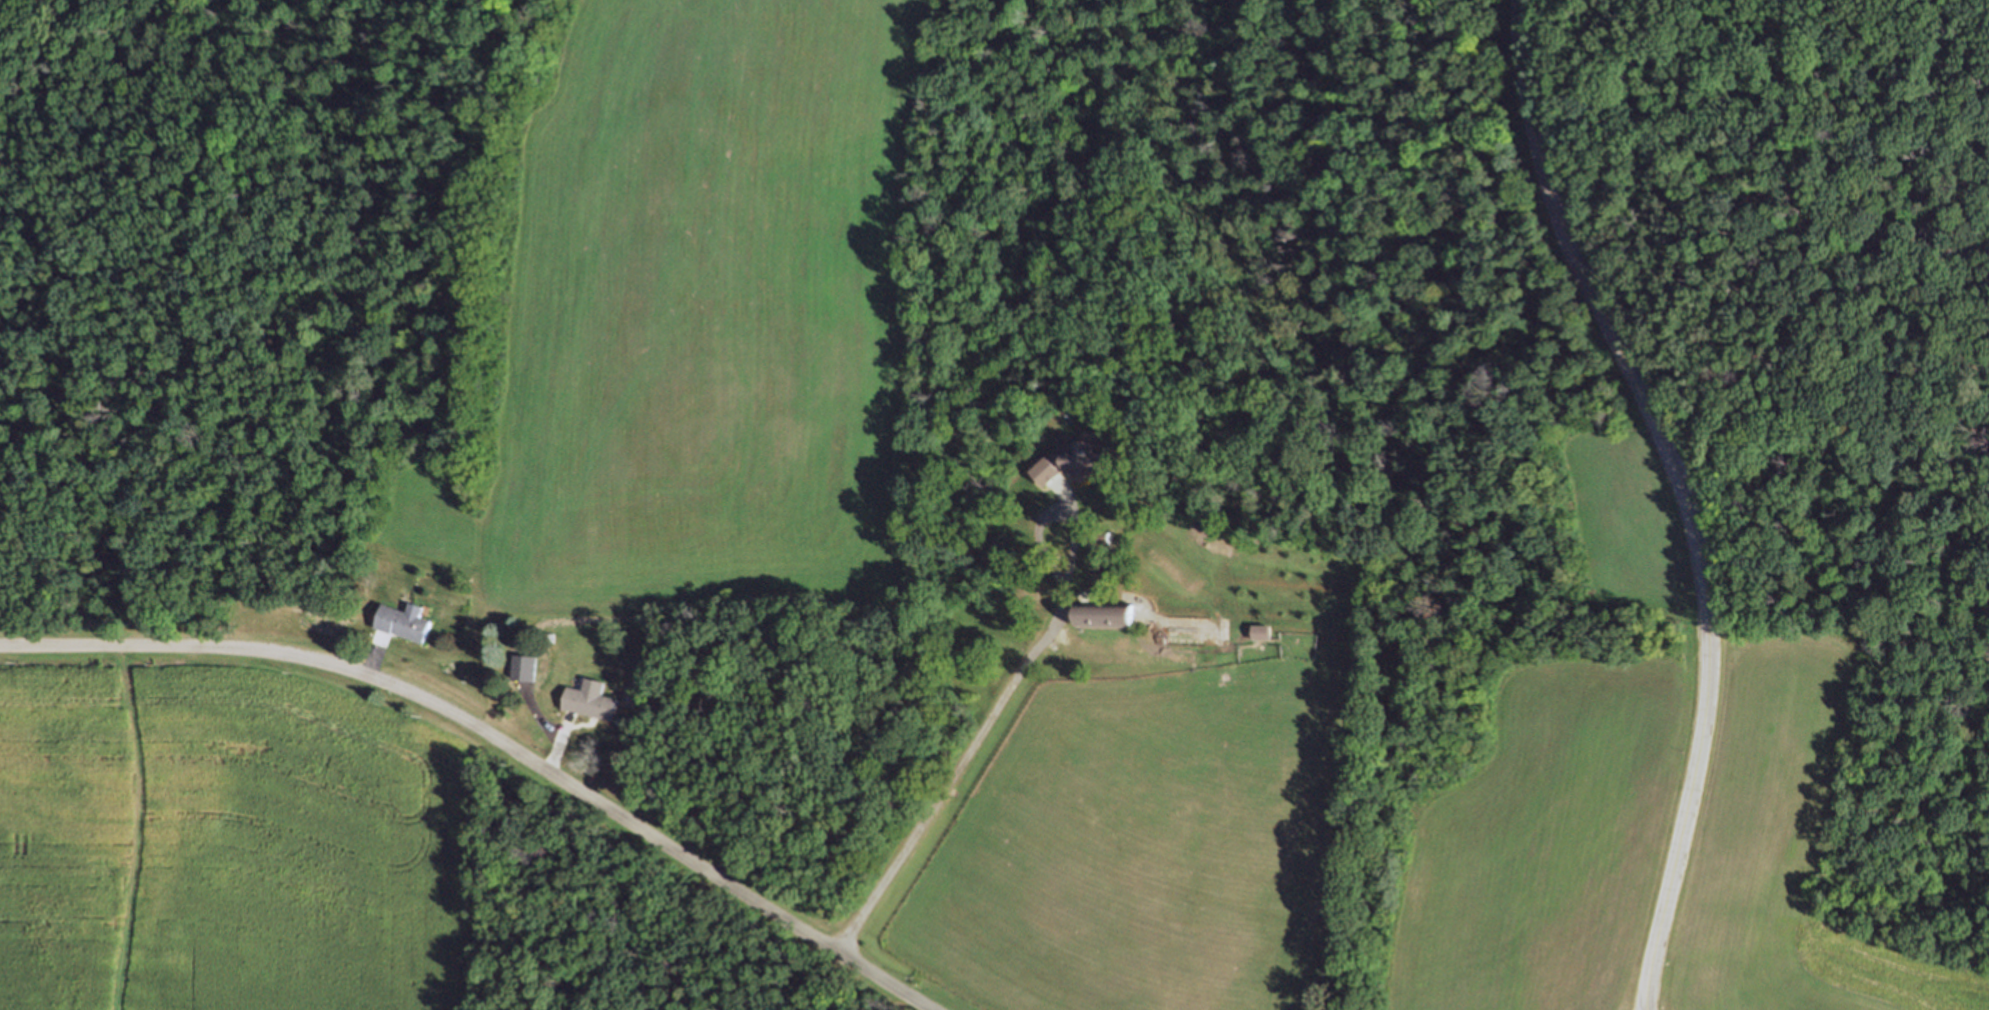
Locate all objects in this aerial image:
building: (1072, 461)
road: (1681, 493)
building: (1098, 535)
building: (1102, 613)
building: (403, 620)
building: (549, 637)
building: (590, 698)
road: (1001, 699)
road: (495, 738)

